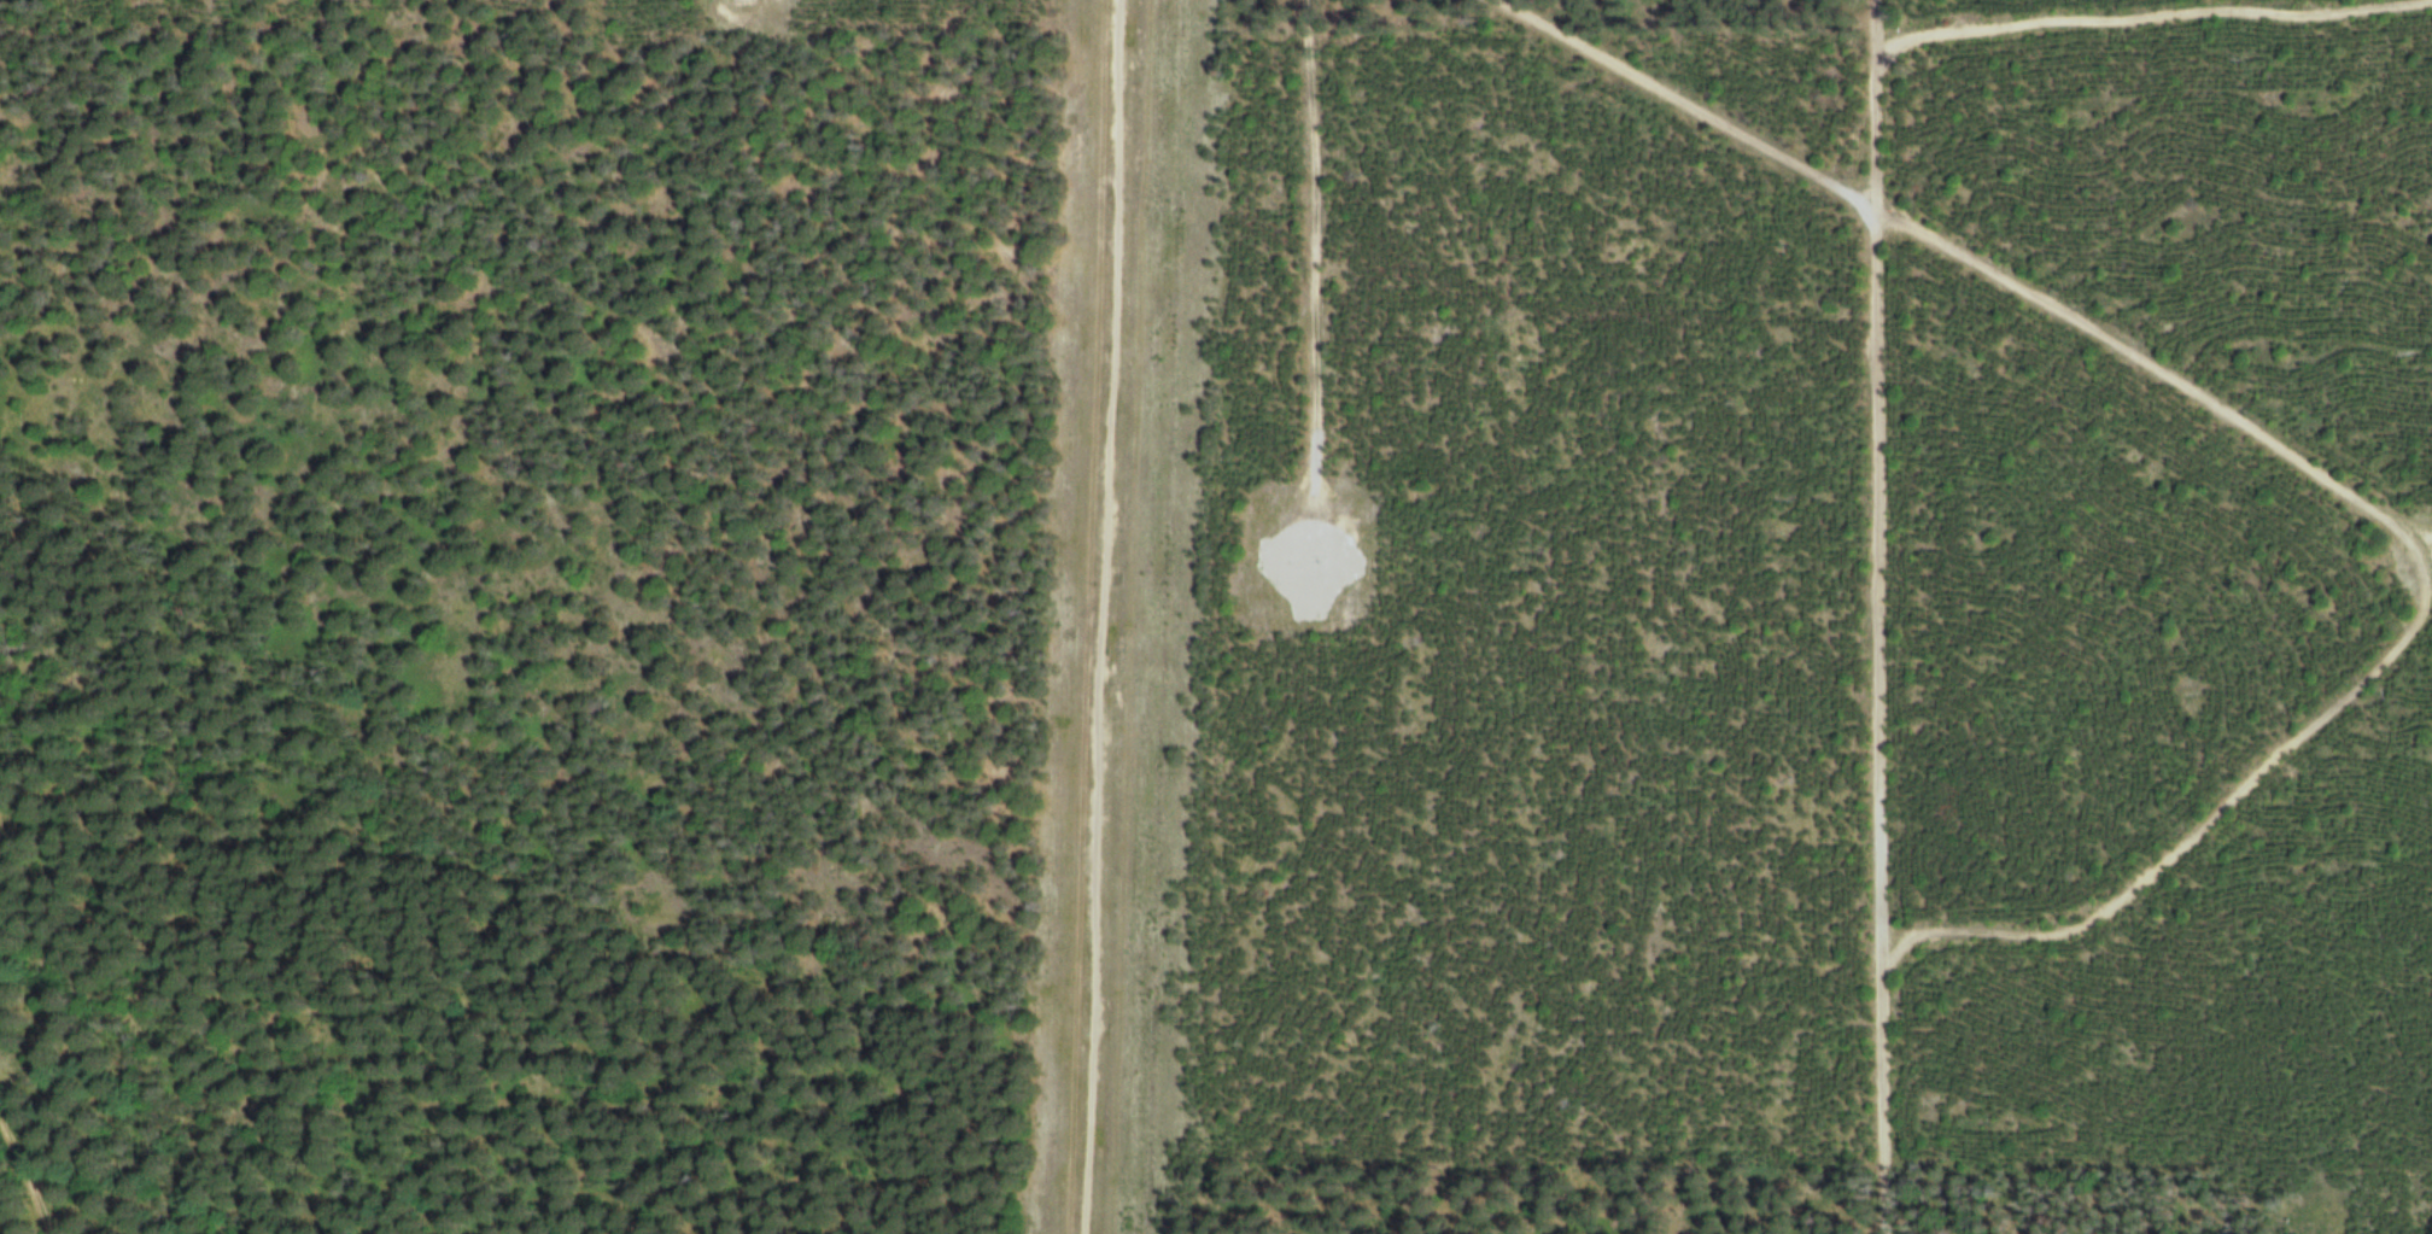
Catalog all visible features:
road: (2156, 24)
road: (1299, 236)
road: (2264, 443)
road: (1884, 616)
road: (36, 1151)

